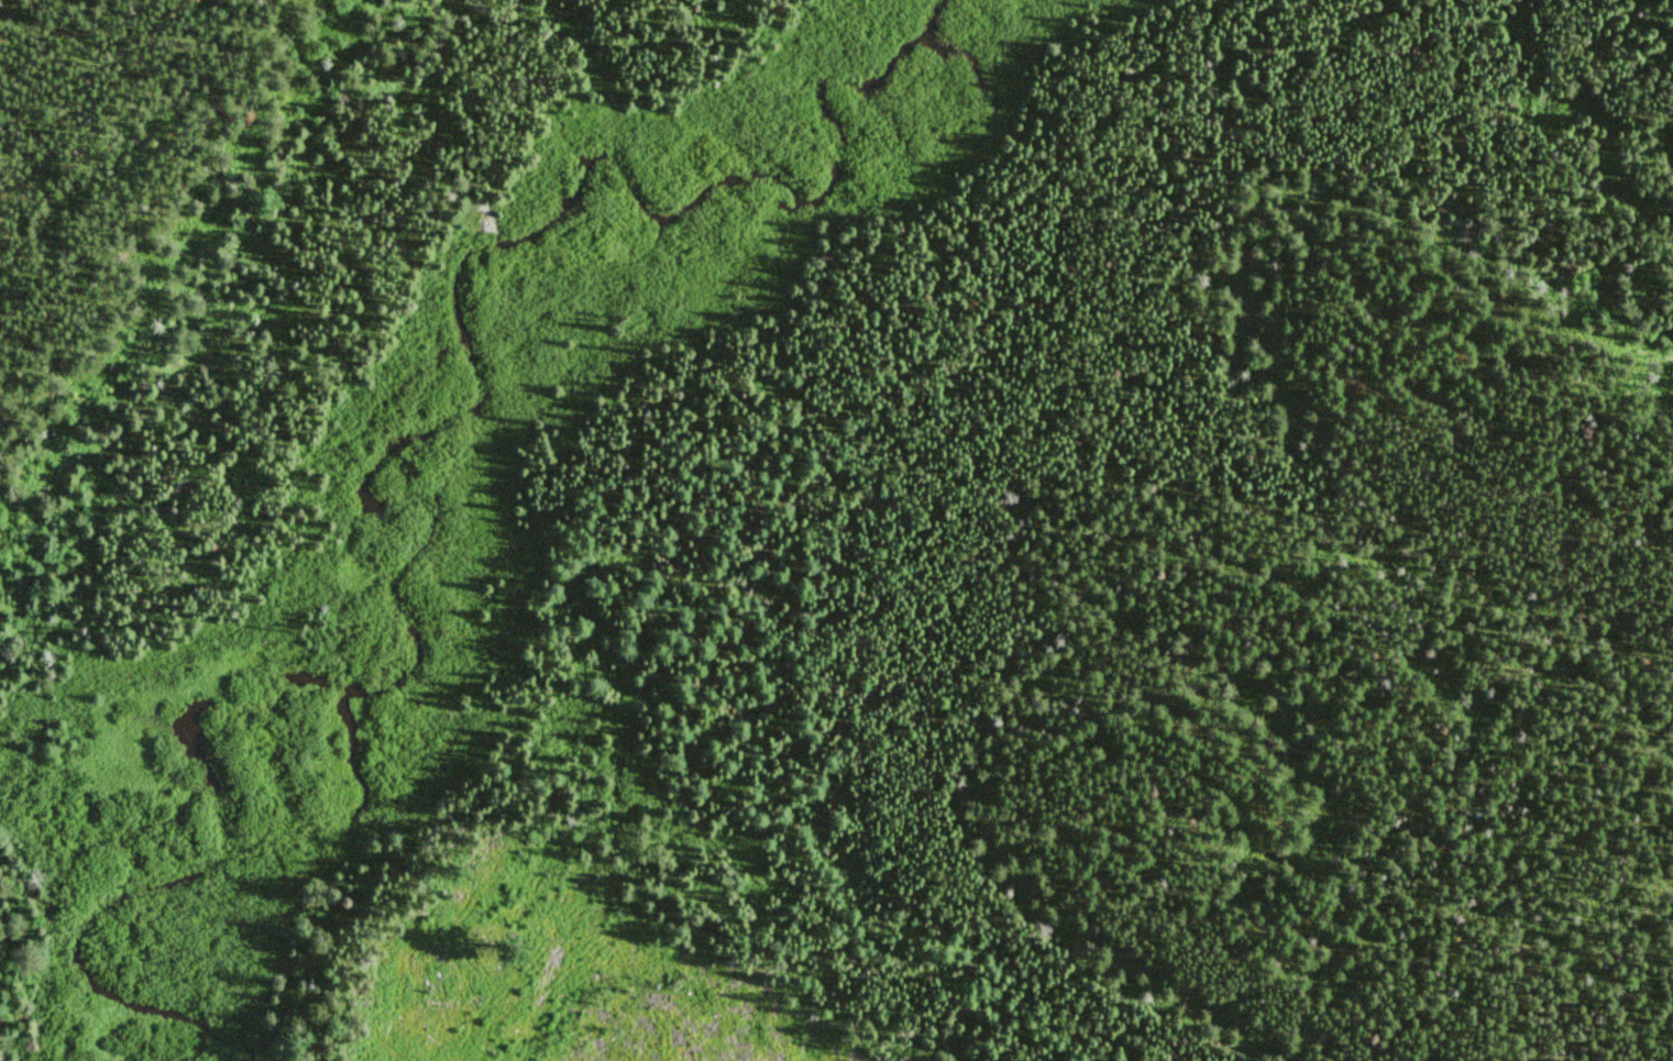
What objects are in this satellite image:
river: (454, 347)
river: (113, 927)

